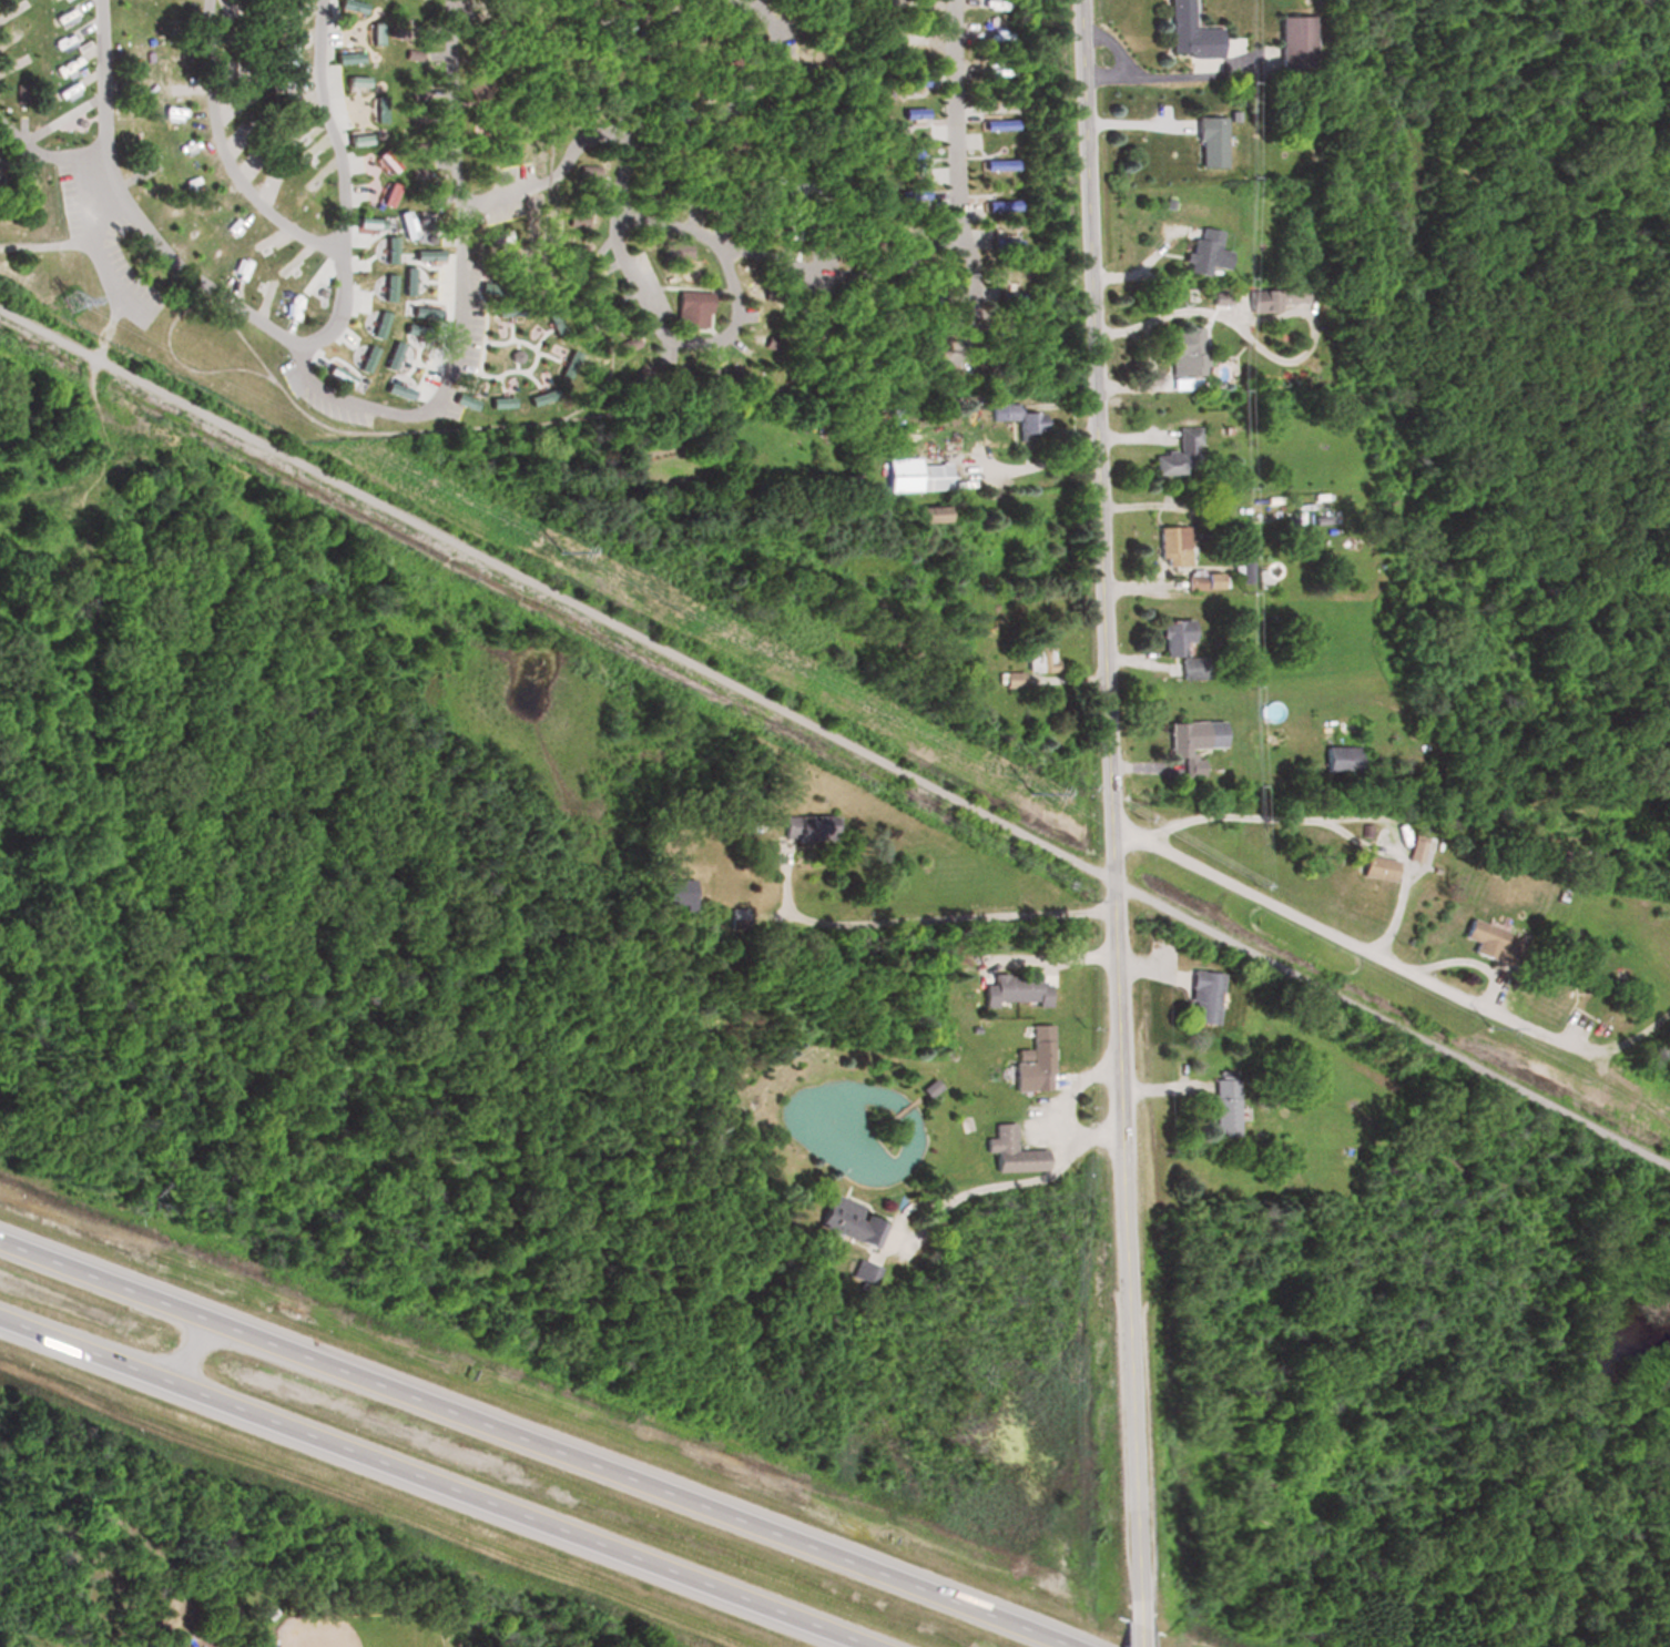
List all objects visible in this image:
building: (633, 0)
building: (812, 2)
building: (491, 3)
building: (349, 4)
building: (65, 17)
building: (495, 30)
building: (371, 31)
building: (395, 31)
building: (566, 31)
building: (736, 31)
building: (819, 31)
building: (679, 33)
building: (1188, 33)
building: (709, 37)
building: (67, 40)
building: (1292, 42)
building: (648, 43)
building: (589, 52)
building: (410, 53)
building: (345, 55)
building: (732, 58)
building: (581, 73)
building: (354, 80)
building: (909, 80)
building: (706, 84)
building: (478, 88)
building: (790, 89)
building: (652, 90)
building: (20, 91)
building: (417, 92)
building: (825, 93)
building: (585, 95)
road: (455, 103)
road: (740, 103)
building: (376, 106)
building: (909, 111)
building: (415, 116)
building: (525, 118)
building: (783, 118)
building: (994, 122)
road: (19, 138)
building: (356, 139)
building: (749, 139)
building: (1208, 141)
building: (416, 146)
building: (511, 146)
building: (669, 148)
building: (709, 150)
road: (51, 155)
road: (227, 155)
building: (784, 156)
road: (105, 157)
building: (909, 159)
building: (383, 160)
building: (995, 162)
building: (584, 170)
building: (416, 173)
building: (825, 181)
building: (692, 182)
building: (655, 183)
road: (958, 184)
road: (344, 185)
building: (722, 187)
building: (26, 191)
building: (767, 192)
building: (908, 192)
building: (385, 193)
building: (996, 203)
building: (742, 210)
building: (825, 214)
building: (573, 218)
building: (875, 226)
road: (684, 230)
building: (774, 231)
road: (38, 243)
building: (1000, 243)
building: (572, 250)
building: (1203, 251)
building: (674, 253)
road: (183, 267)
building: (594, 286)
building: (768, 292)
building: (923, 296)
building: (1005, 296)
building: (1271, 296)
power tower: (65, 297)
road: (462, 303)
building: (691, 312)
road: (1199, 312)
building: (876, 313)
railway: (833, 314)
building: (612, 317)
railway: (173, 324)
building: (924, 329)
building: (999, 333)
road: (486, 335)
road: (541, 342)
road: (675, 342)
building: (771, 342)
road: (507, 343)
road: (525, 343)
building: (625, 343)
building: (1181, 349)
road: (538, 355)
railway: (612, 356)
building: (984, 356)
road: (522, 373)
building: (705, 374)
building: (638, 375)
building: (730, 375)
building: (679, 376)
road: (496, 378)
building: (1015, 415)
building: (1179, 454)
road: (1032, 461)
building: (929, 475)
building: (926, 512)
building: (1168, 546)
power tower: (561, 551)
building: (1242, 557)
building: (1200, 580)
building: (1174, 636)
building: (1039, 654)
building: (1009, 679)
road: (835, 734)
building: (1189, 744)
building: (1338, 758)
power tower: (1031, 793)
road: (1107, 806)
road: (1313, 819)
building: (805, 826)
building: (1414, 846)
building: (1374, 867)
building: (673, 892)
road: (916, 918)
building: (1481, 938)
building: (1575, 964)
road: (1391, 969)
building: (1011, 989)
building: (1201, 996)
power tower: (1491, 1028)
building: (1031, 1060)
building: (1224, 1107)
road: (1061, 1118)
building: (1009, 1151)
road: (1001, 1191)
building: (847, 1220)
building: (862, 1271)
road: (539, 1442)
road: (434, 1483)
park: (356, 1629)
road: (1134, 1630)

